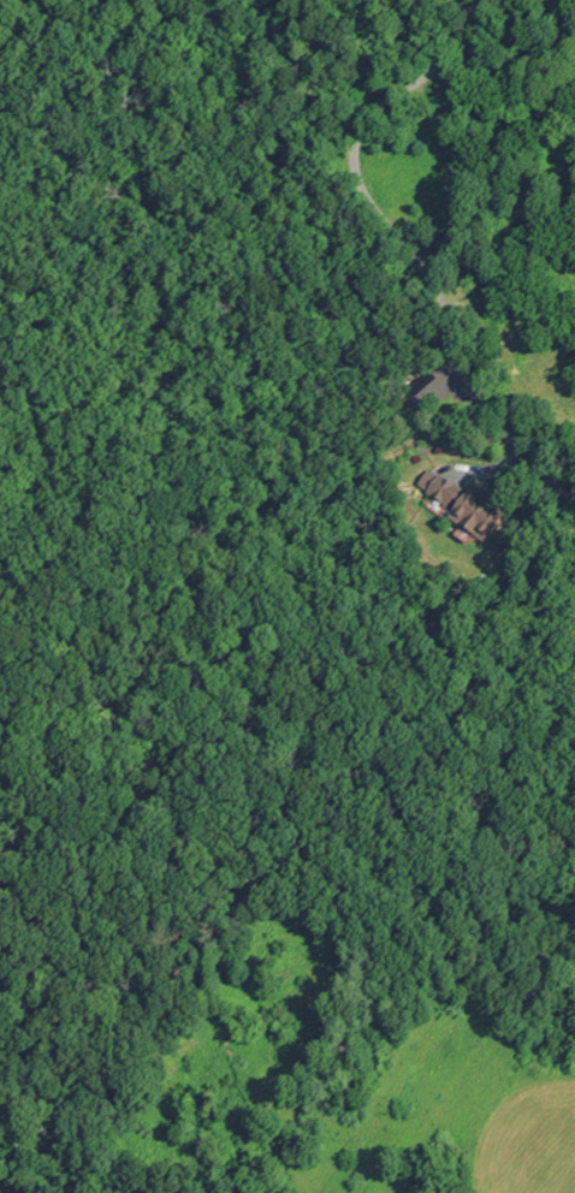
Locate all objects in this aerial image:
road: (398, 248)
building: (472, 509)

